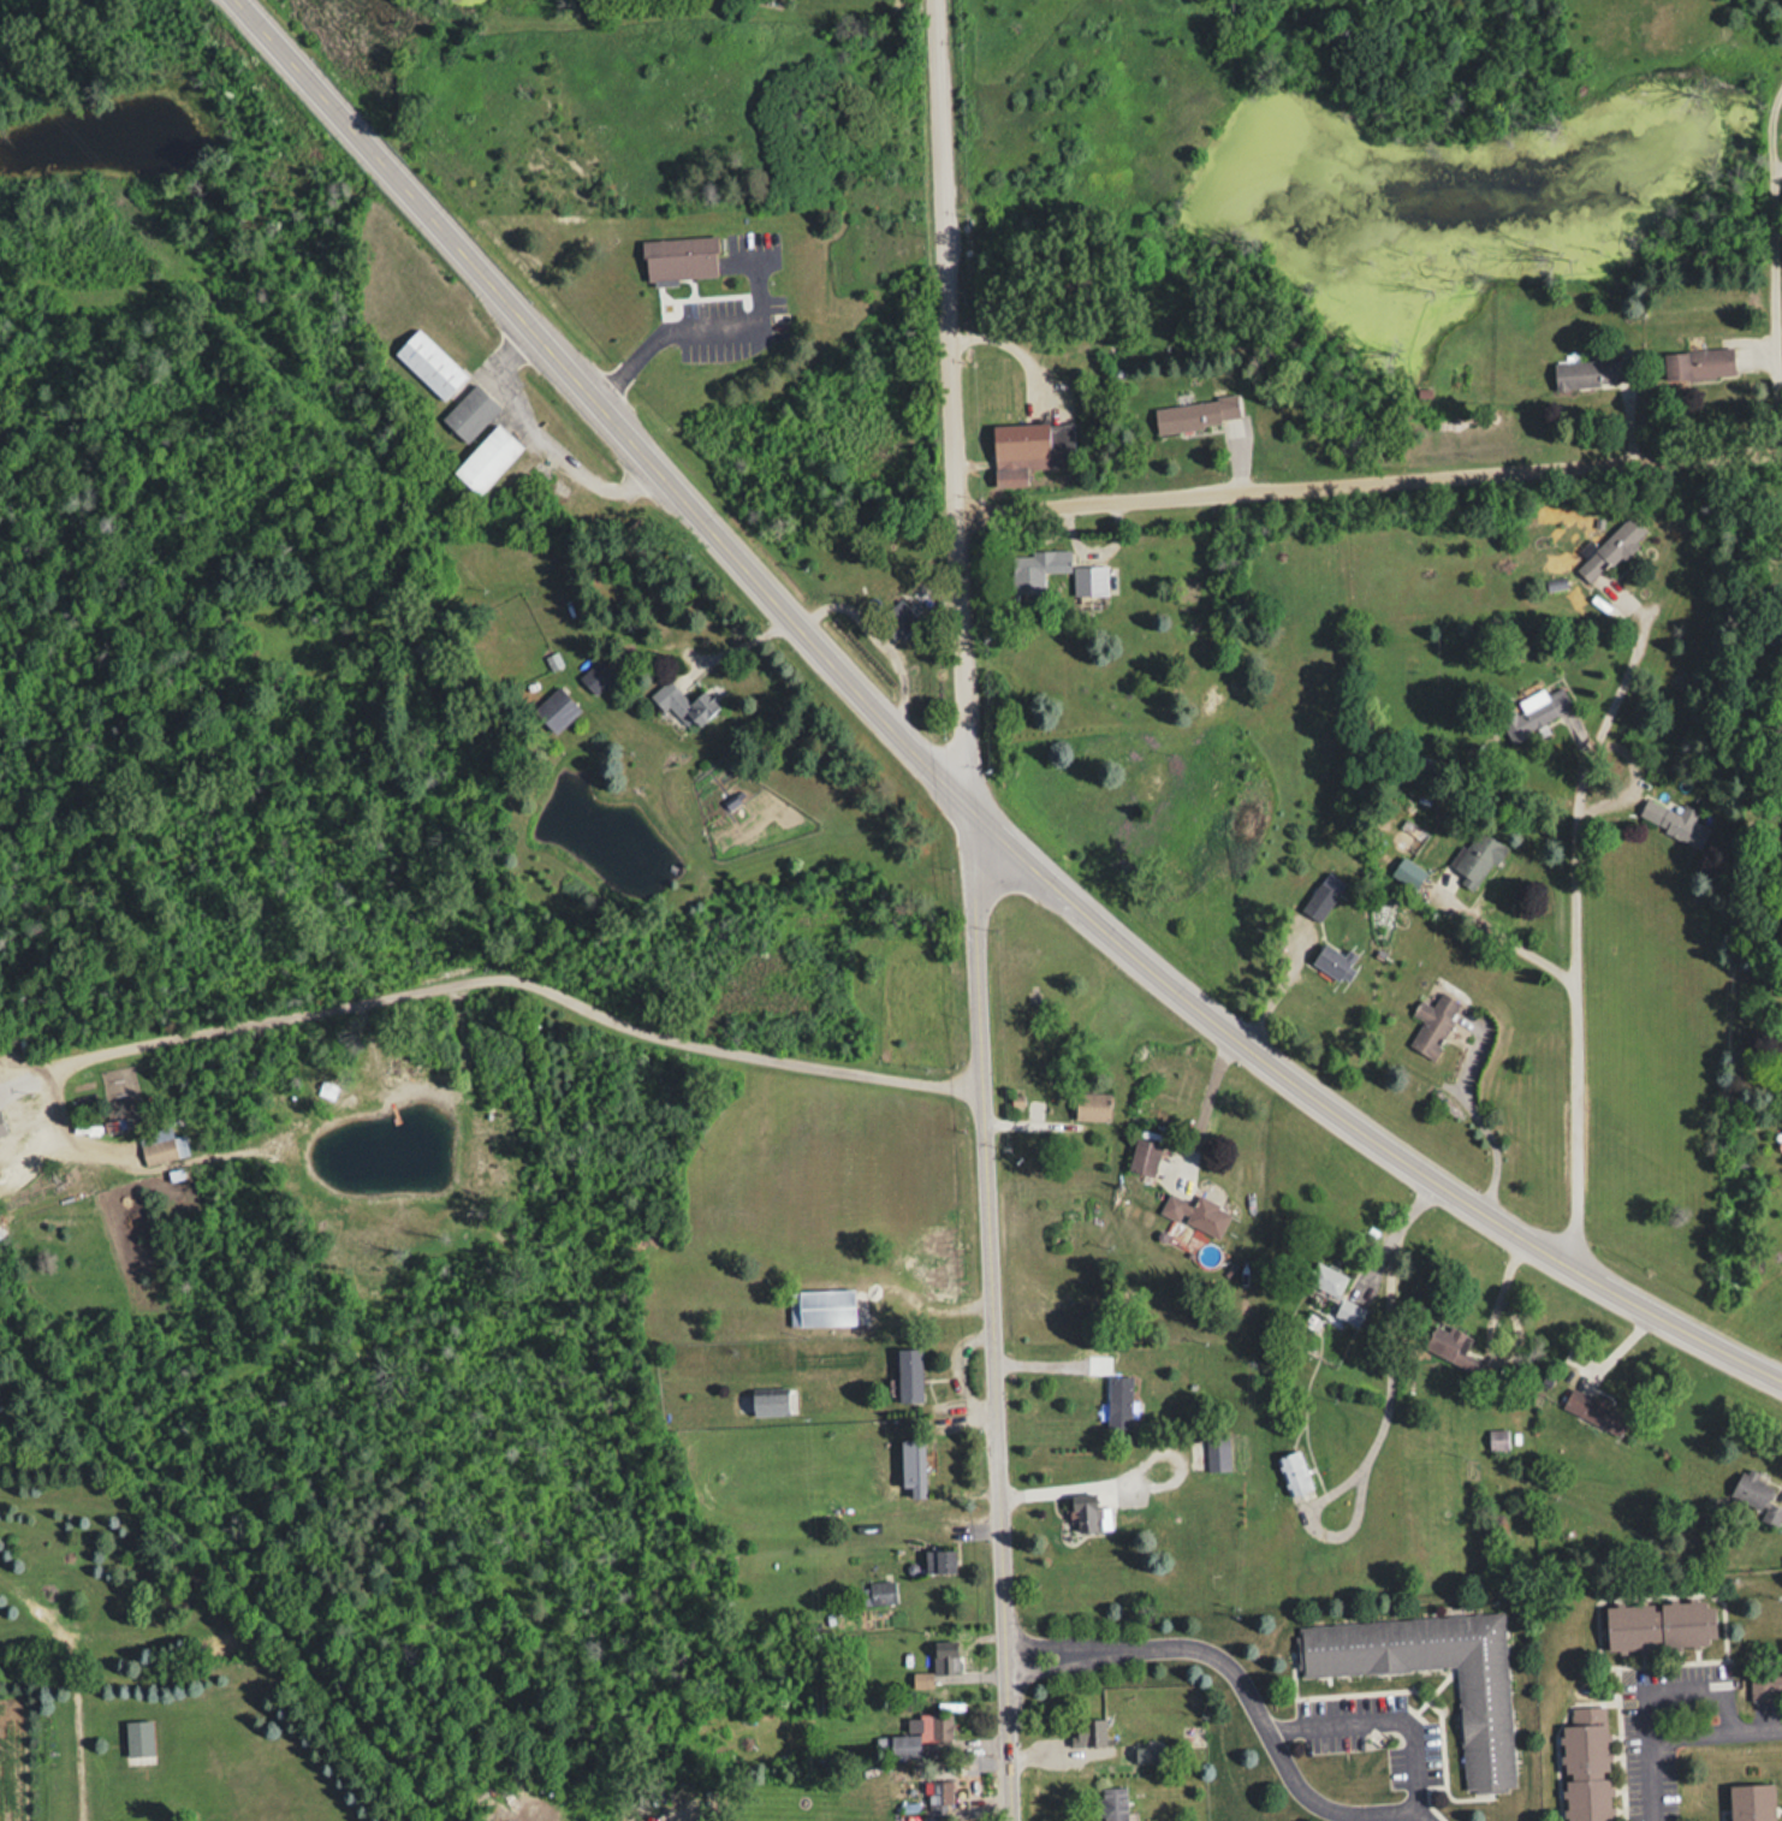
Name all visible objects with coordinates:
building: (678, 257)
road: (1774, 260)
road: (699, 324)
building: (1698, 363)
building: (429, 364)
building: (1588, 373)
road: (951, 403)
building: (469, 413)
building: (1196, 415)
road: (548, 438)
building: (1029, 449)
building: (486, 459)
road: (1368, 475)
building: (1609, 550)
building: (1035, 569)
building: (1088, 581)
building: (899, 617)
road: (872, 634)
road: (738, 648)
building: (595, 677)
building: (683, 705)
building: (554, 710)
building: (1537, 710)
road: (939, 773)
building: (1665, 820)
building: (1477, 855)
building: (1409, 874)
building: (1323, 895)
building: (1335, 961)
road: (506, 971)
road: (1575, 1012)
building: (1431, 1024)
road: (1196, 1099)
building: (1091, 1107)
building: (158, 1151)
building: (1145, 1157)
building: (1195, 1214)
building: (1325, 1276)
building: (820, 1306)
building: (1348, 1311)
road: (991, 1313)
road: (1481, 1325)
building: (1450, 1346)
road: (954, 1369)
building: (908, 1372)
building: (1118, 1400)
building: (768, 1401)
building: (1594, 1410)
road: (1376, 1413)
building: (1497, 1439)
building: (1217, 1451)
building: (911, 1464)
building: (1291, 1472)
road: (1062, 1483)
building: (1754, 1496)
building: (1088, 1513)
building: (939, 1560)
road: (210, 1579)
building: (877, 1592)
building: (1658, 1624)
building: (1766, 1681)
road: (1242, 1686)
road: (1385, 1718)
building: (1089, 1730)
building: (920, 1732)
building: (1484, 1732)
road: (1715, 1732)
building: (138, 1737)
road: (1647, 1756)
building: (1585, 1764)
road: (79, 1775)
building: (939, 1799)
building: (1751, 1802)
building: (1112, 1803)

